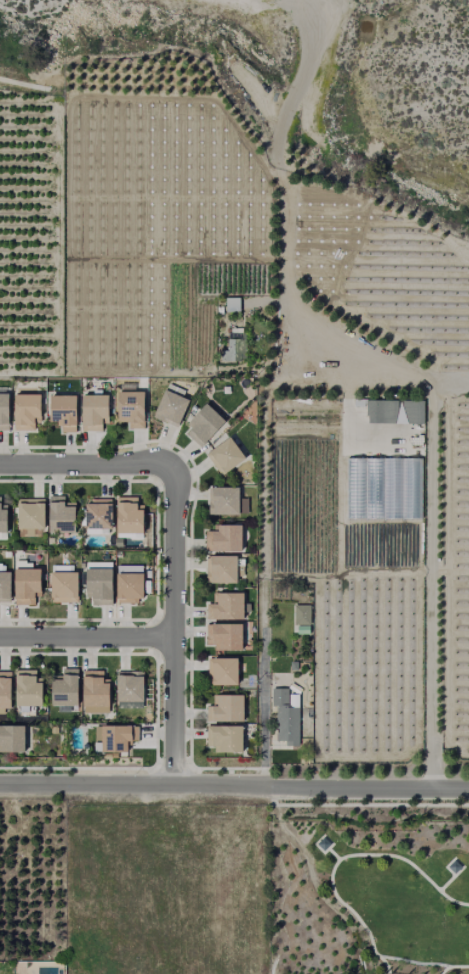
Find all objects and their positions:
road: (23, 84)
building: (231, 308)
building: (231, 355)
road: (396, 372)
road: (451, 387)
building: (129, 407)
building: (169, 407)
building: (61, 410)
building: (2, 411)
building: (23, 411)
building: (92, 411)
building: (395, 411)
building: (202, 423)
building: (226, 457)
road: (86, 466)
building: (383, 487)
building: (224, 501)
building: (30, 513)
building: (98, 513)
building: (61, 515)
building: (3, 518)
building: (128, 518)
building: (2, 536)
building: (224, 536)
building: (221, 567)
building: (128, 569)
road: (451, 572)
building: (27, 583)
building: (63, 584)
building: (99, 584)
building: (4, 585)
building: (129, 585)
road: (433, 587)
road: (261, 589)
building: (225, 605)
building: (302, 621)
road: (172, 626)
building: (301, 633)
road: (86, 636)
building: (223, 636)
building: (222, 669)
building: (291, 669)
building: (63, 689)
building: (130, 689)
building: (4, 691)
building: (27, 693)
building: (95, 694)
building: (292, 700)
building: (225, 706)
building: (285, 719)
building: (11, 737)
building: (112, 738)
building: (224, 739)
road: (234, 787)
road: (371, 805)
building: (323, 844)
road: (333, 854)
building: (454, 867)
road: (451, 879)
road: (331, 887)
park: (368, 890)
road: (384, 963)
road: (445, 969)

